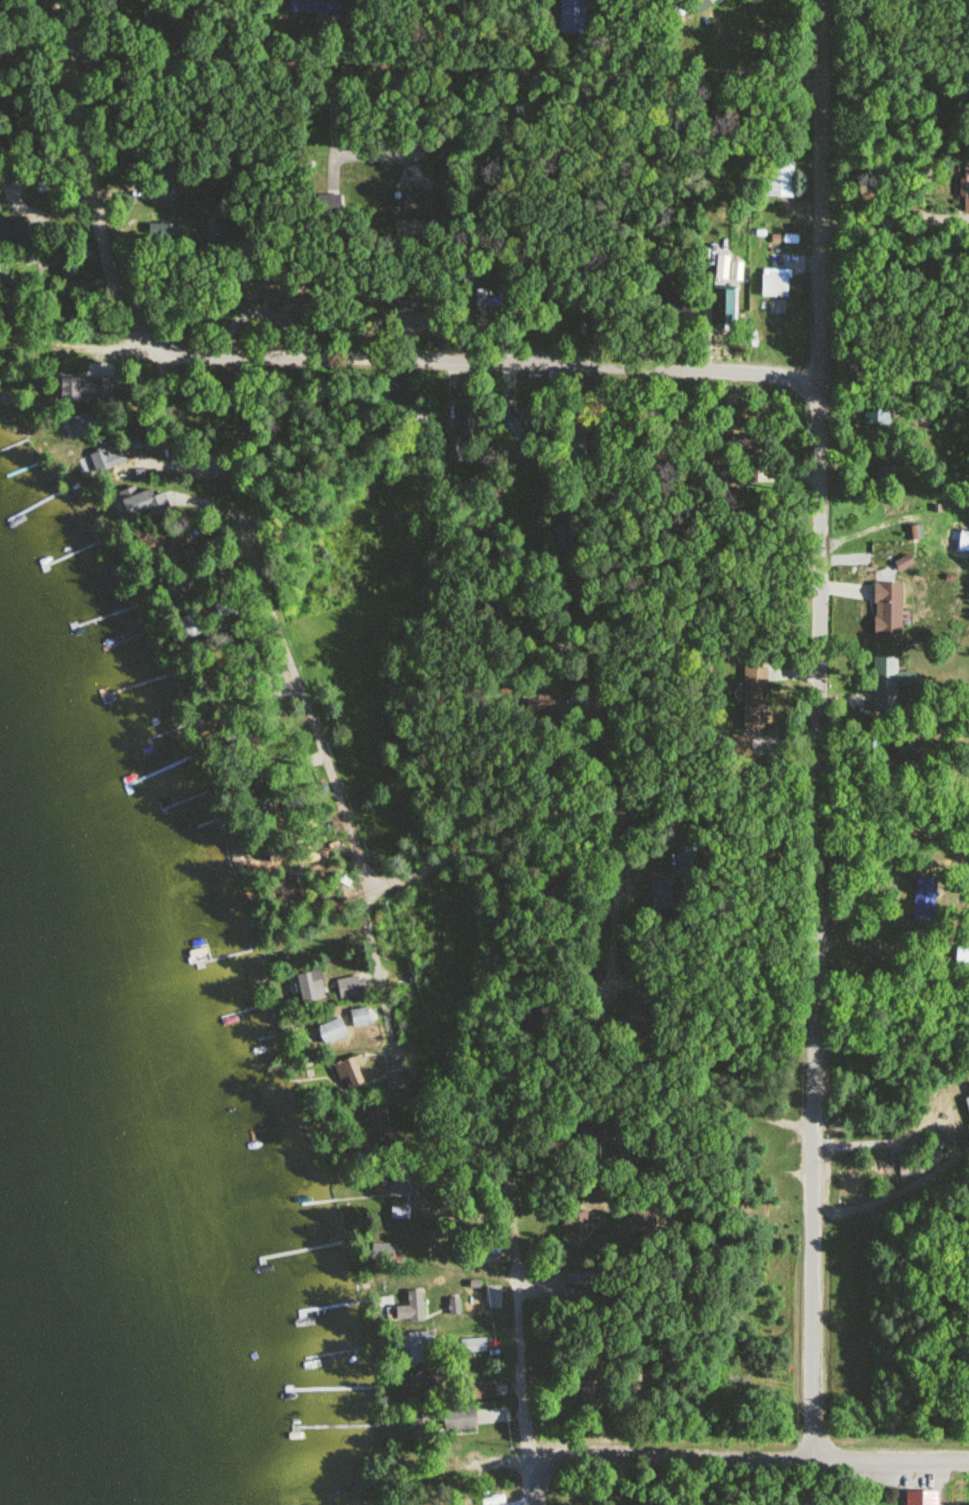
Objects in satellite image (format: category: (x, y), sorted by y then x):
building: (702, 4)
building: (314, 7)
building: (571, 16)
road: (447, 69)
building: (779, 179)
building: (965, 188)
building: (167, 192)
road: (821, 194)
building: (415, 204)
building: (13, 230)
building: (166, 235)
building: (722, 267)
building: (737, 271)
building: (778, 276)
building: (4, 281)
building: (255, 289)
building: (664, 303)
building: (486, 309)
road: (84, 350)
road: (302, 359)
building: (81, 390)
building: (877, 412)
building: (415, 416)
building: (468, 422)
building: (84, 424)
building: (515, 429)
building: (574, 442)
building: (451, 450)
building: (107, 459)
building: (885, 470)
building: (140, 504)
building: (566, 538)
building: (156, 542)
building: (173, 586)
building: (224, 609)
building: (887, 610)
building: (192, 626)
building: (889, 683)
road: (599, 717)
building: (908, 749)
building: (308, 853)
road: (614, 868)
building: (551, 878)
road: (400, 883)
building: (670, 892)
building: (925, 898)
road: (817, 923)
building: (962, 960)
building: (309, 985)
building: (348, 987)
building: (360, 1017)
building: (331, 1030)
building: (347, 1073)
building: (395, 1080)
building: (956, 1120)
building: (377, 1122)
building: (597, 1141)
building: (638, 1174)
building: (402, 1184)
building: (400, 1213)
building: (643, 1218)
building: (575, 1221)
building: (480, 1247)
building: (386, 1254)
building: (414, 1313)
building: (473, 1339)
road: (520, 1343)
building: (418, 1347)
building: (420, 1383)
building: (631, 1385)
building: (480, 1390)
building: (591, 1395)
building: (466, 1418)
building: (421, 1423)
road: (675, 1458)
road: (892, 1462)
road: (534, 1486)
building: (921, 1497)

